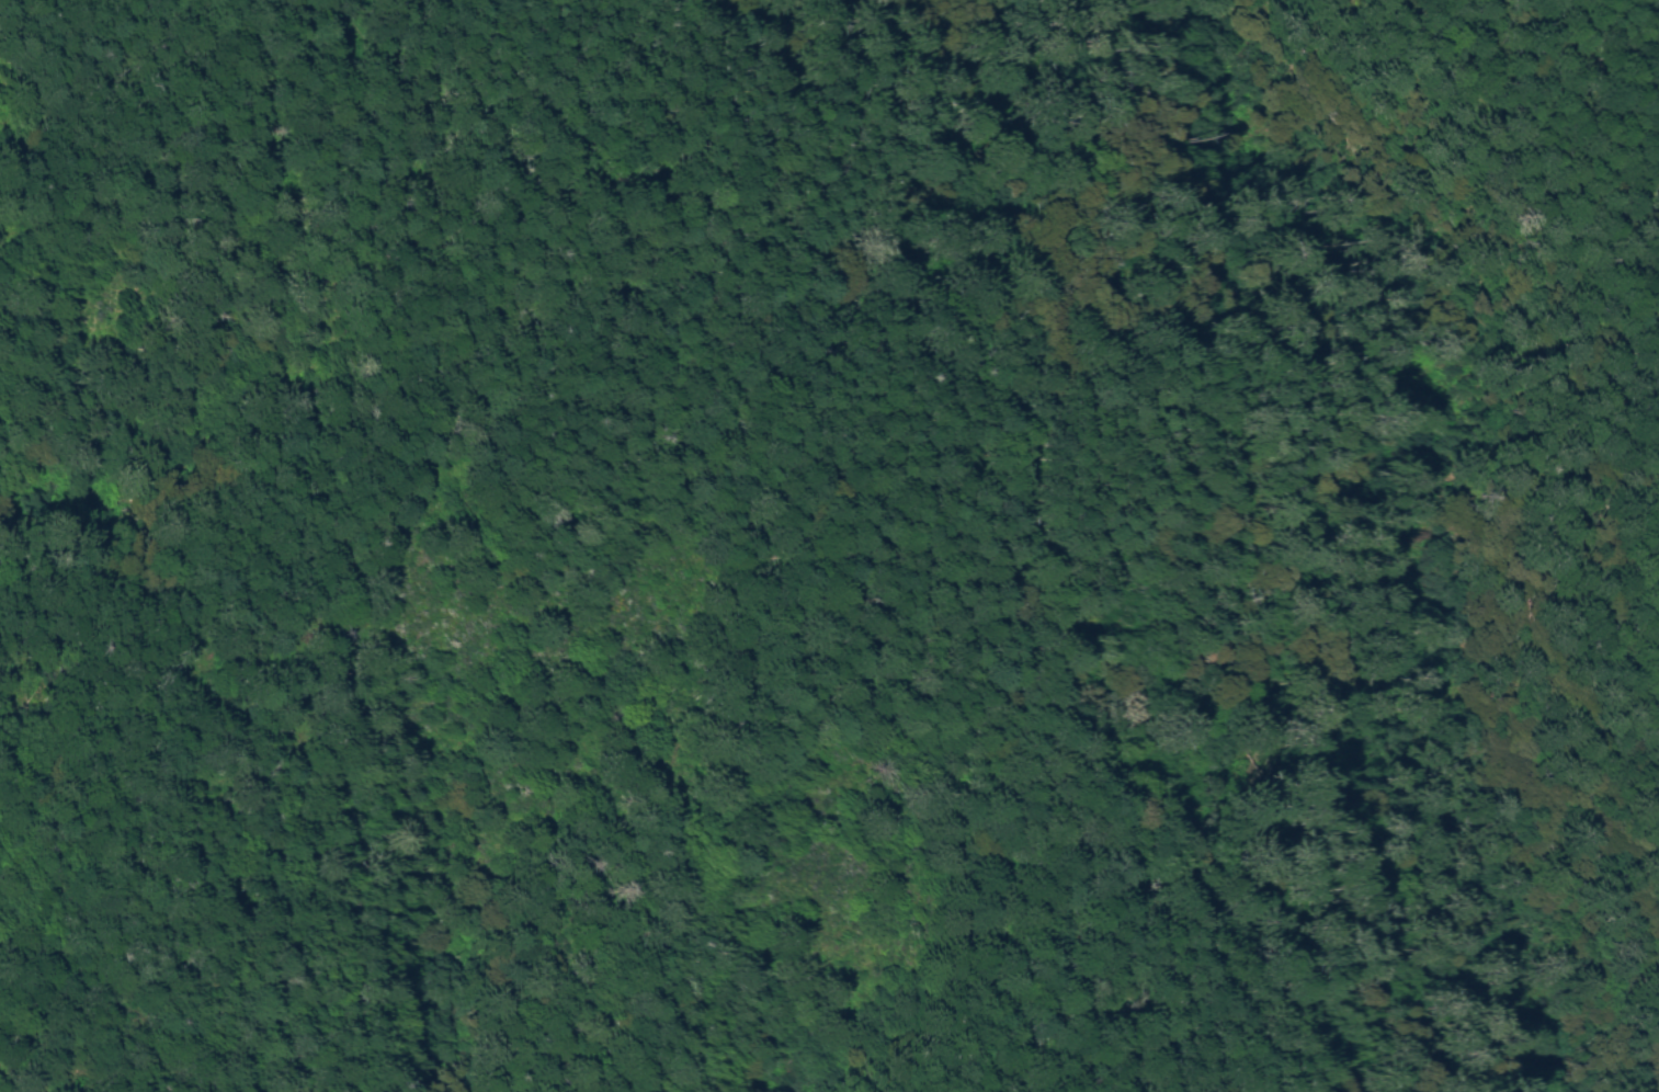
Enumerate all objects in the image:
road: (941, 373)

